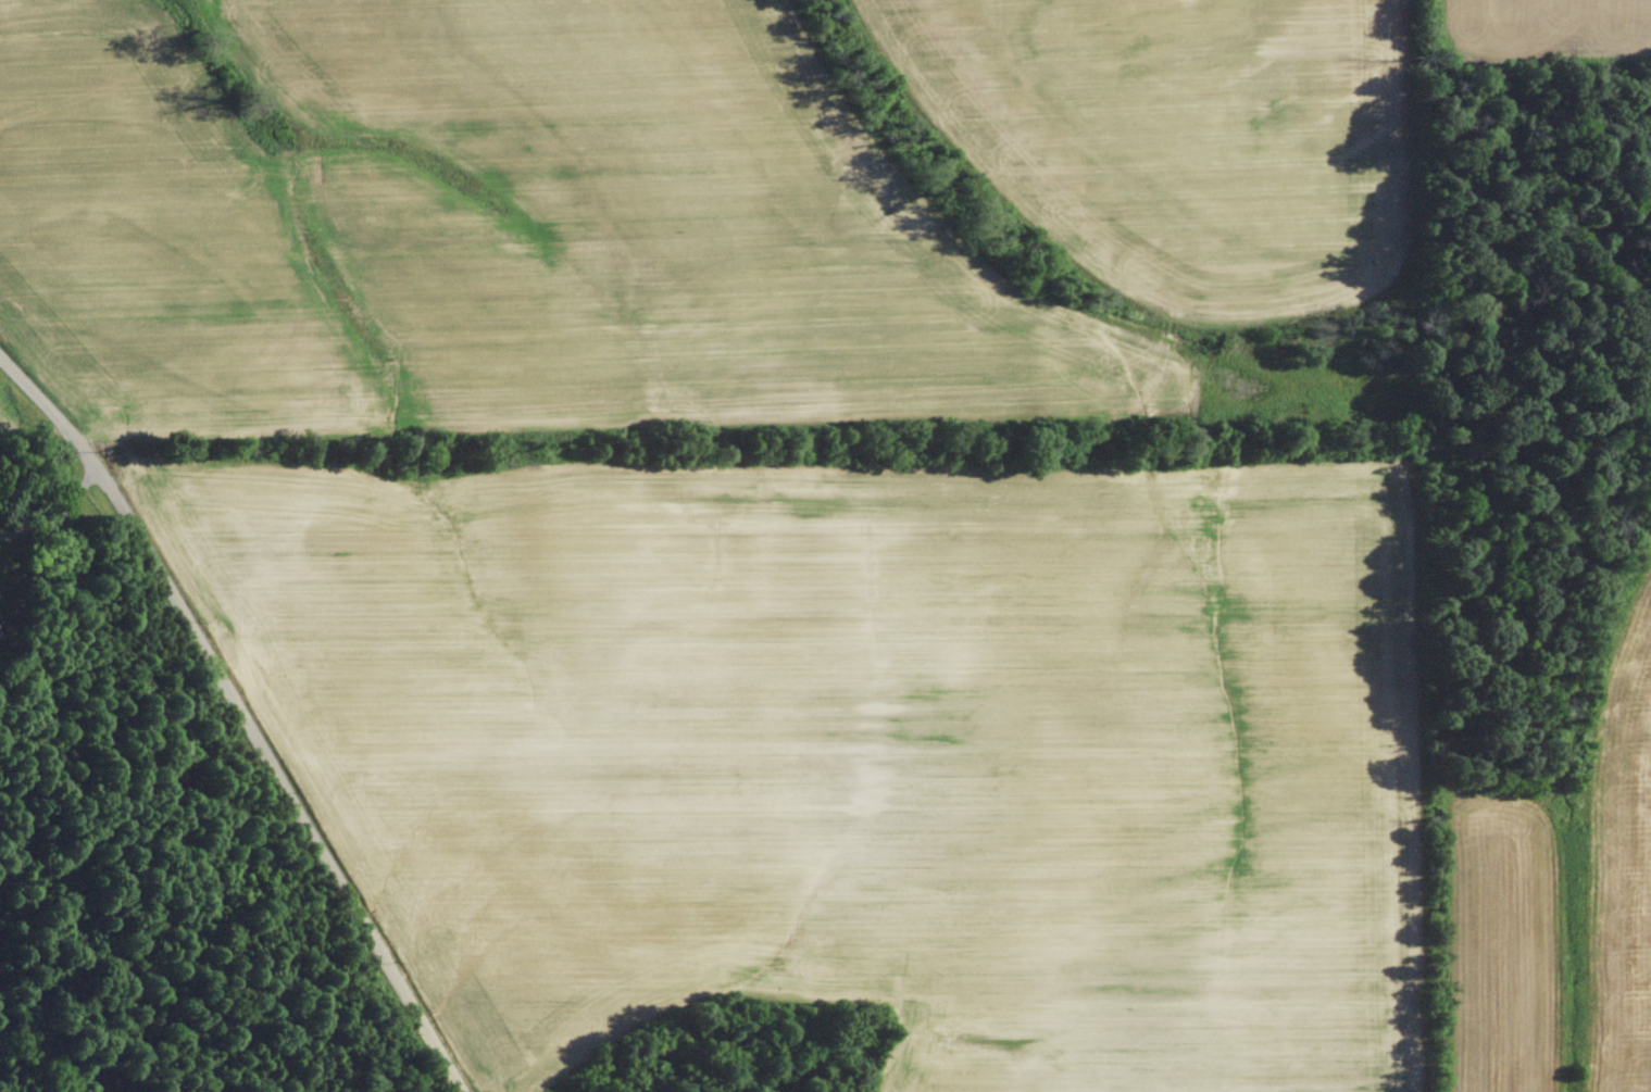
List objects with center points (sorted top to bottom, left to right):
road: (242, 714)

